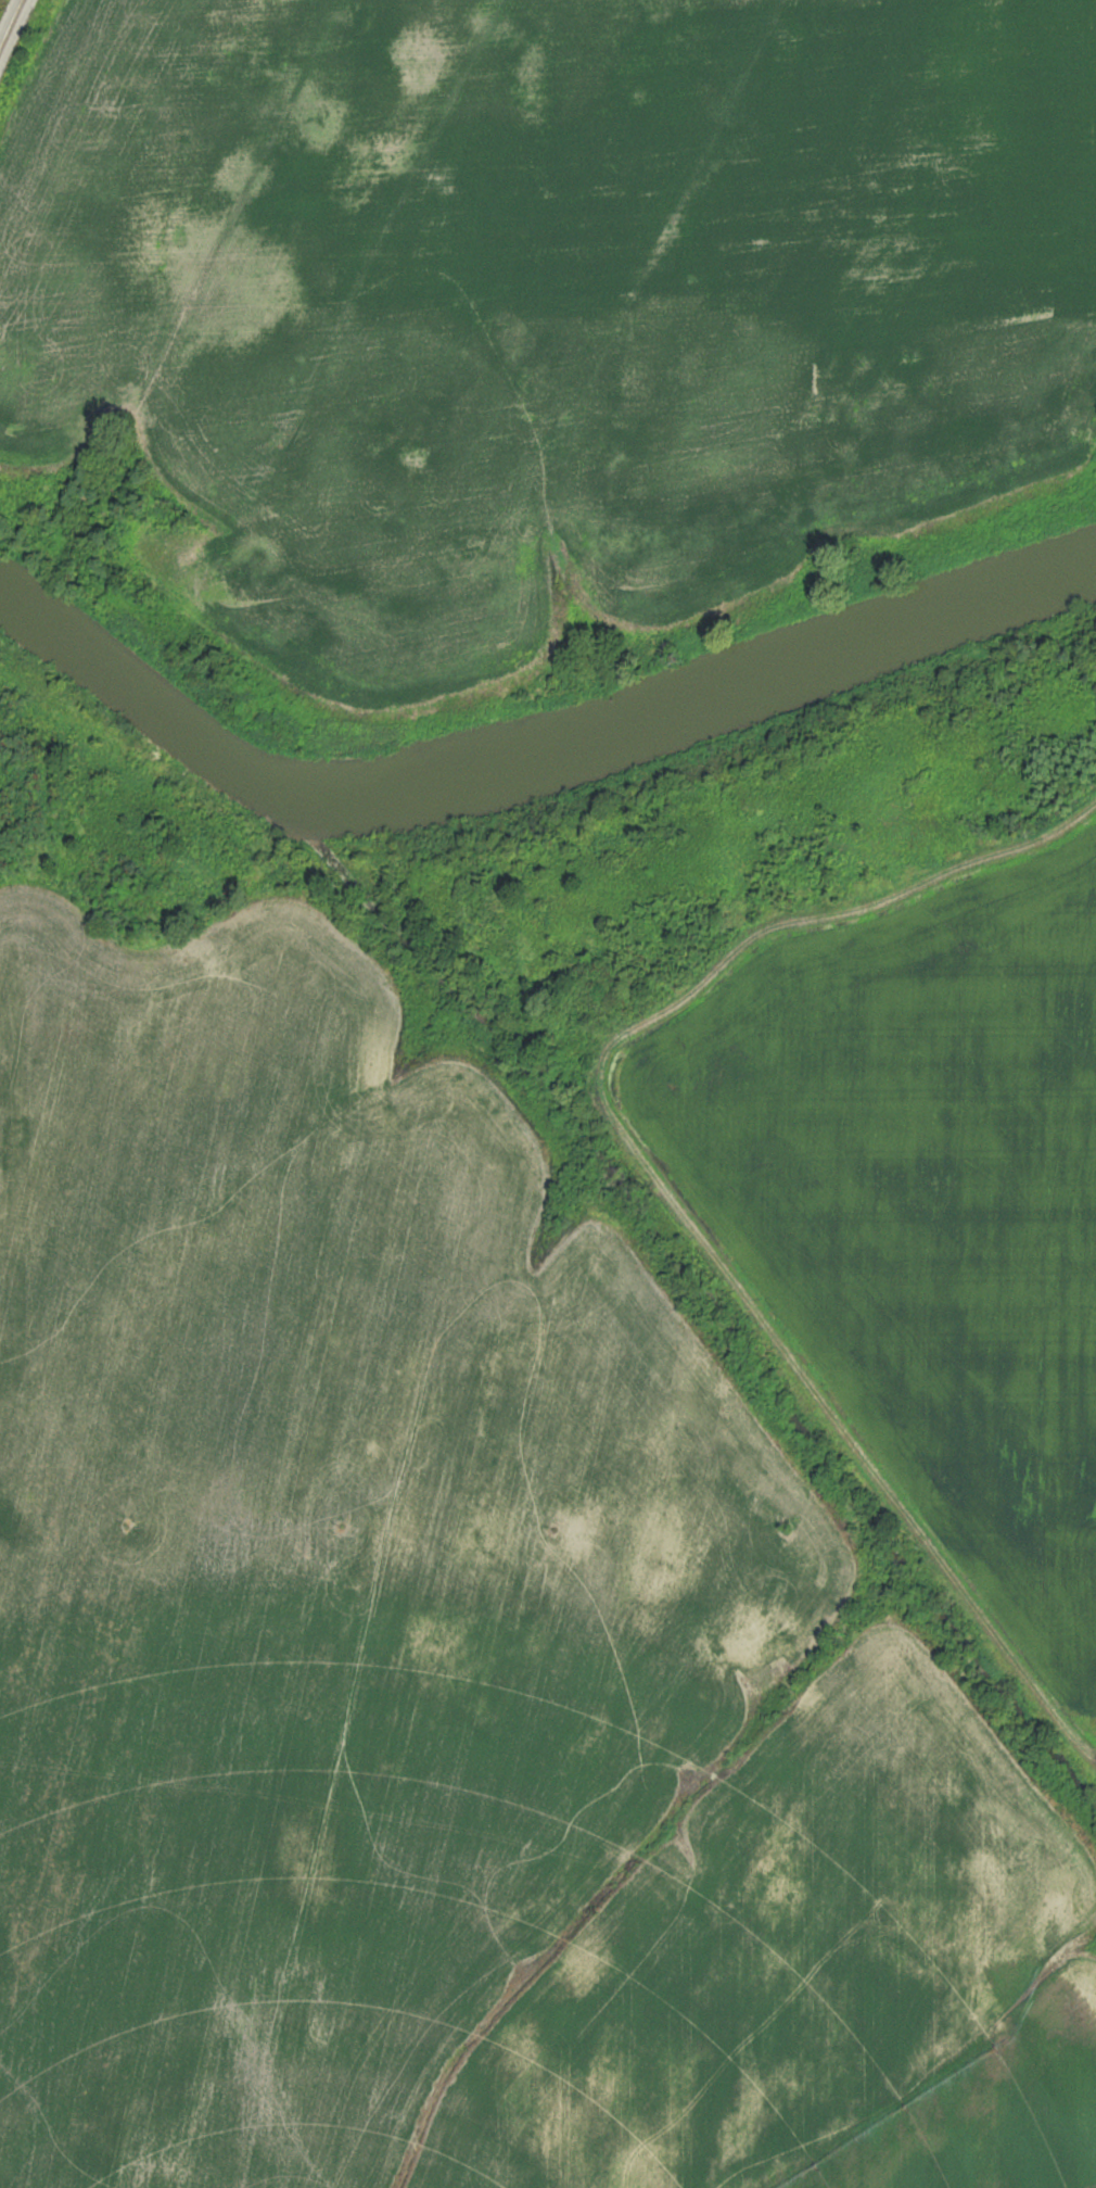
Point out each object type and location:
railway: (10, 25)

